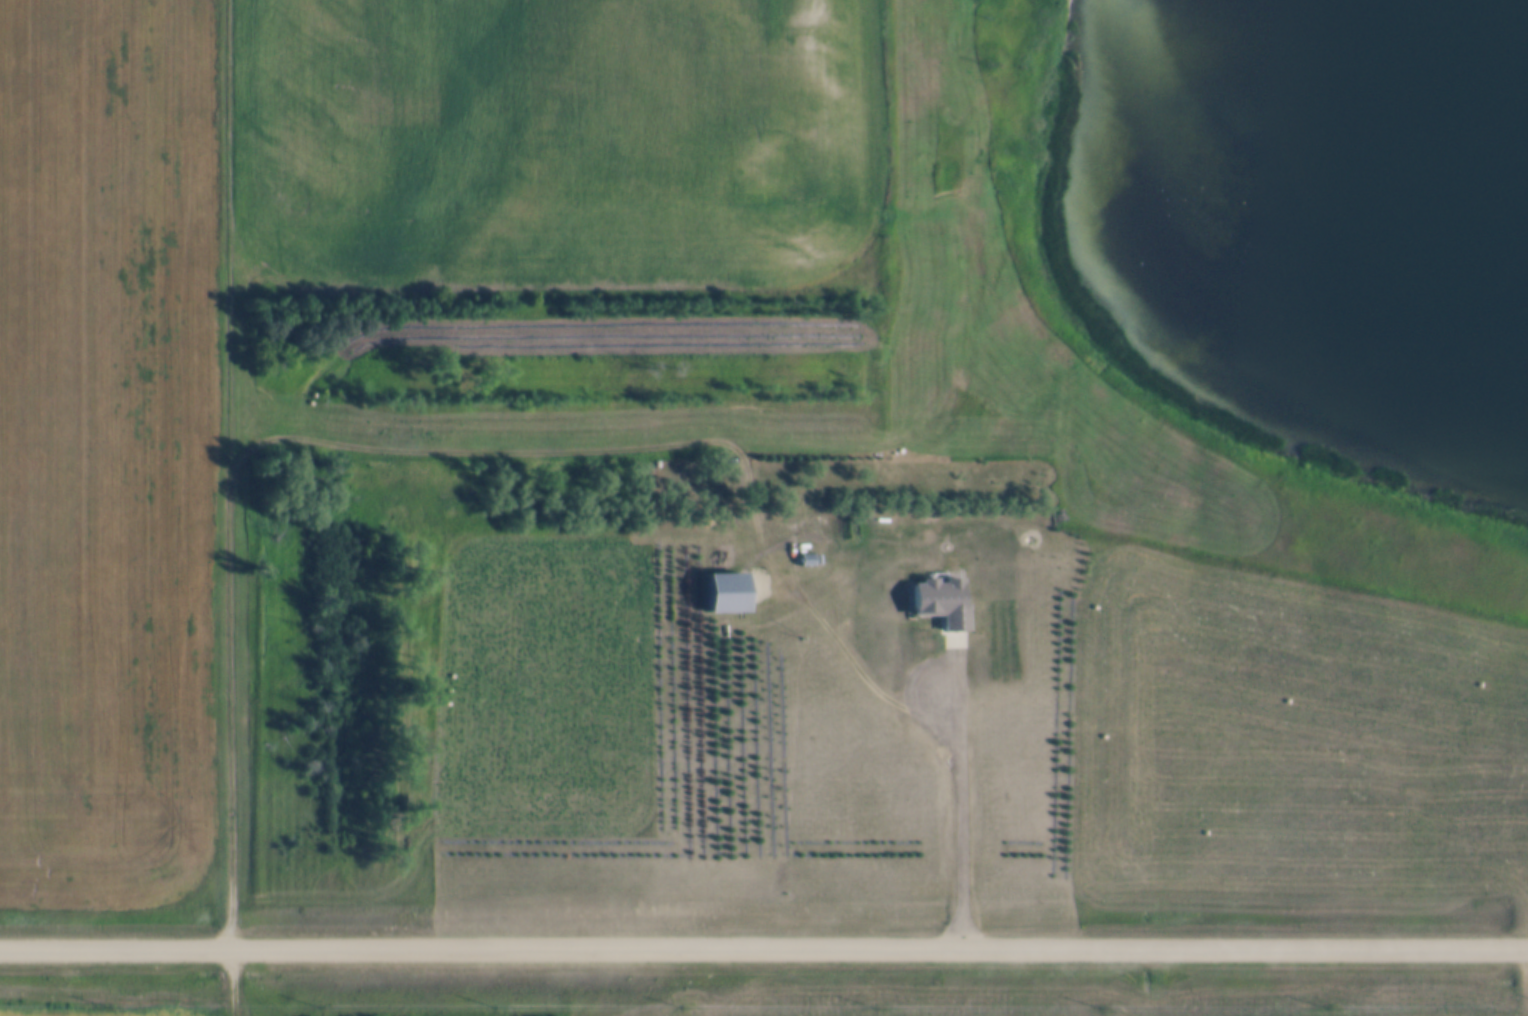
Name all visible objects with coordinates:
road: (229, 508)
building: (851, 533)
building: (717, 559)
building: (806, 561)
road: (764, 947)

